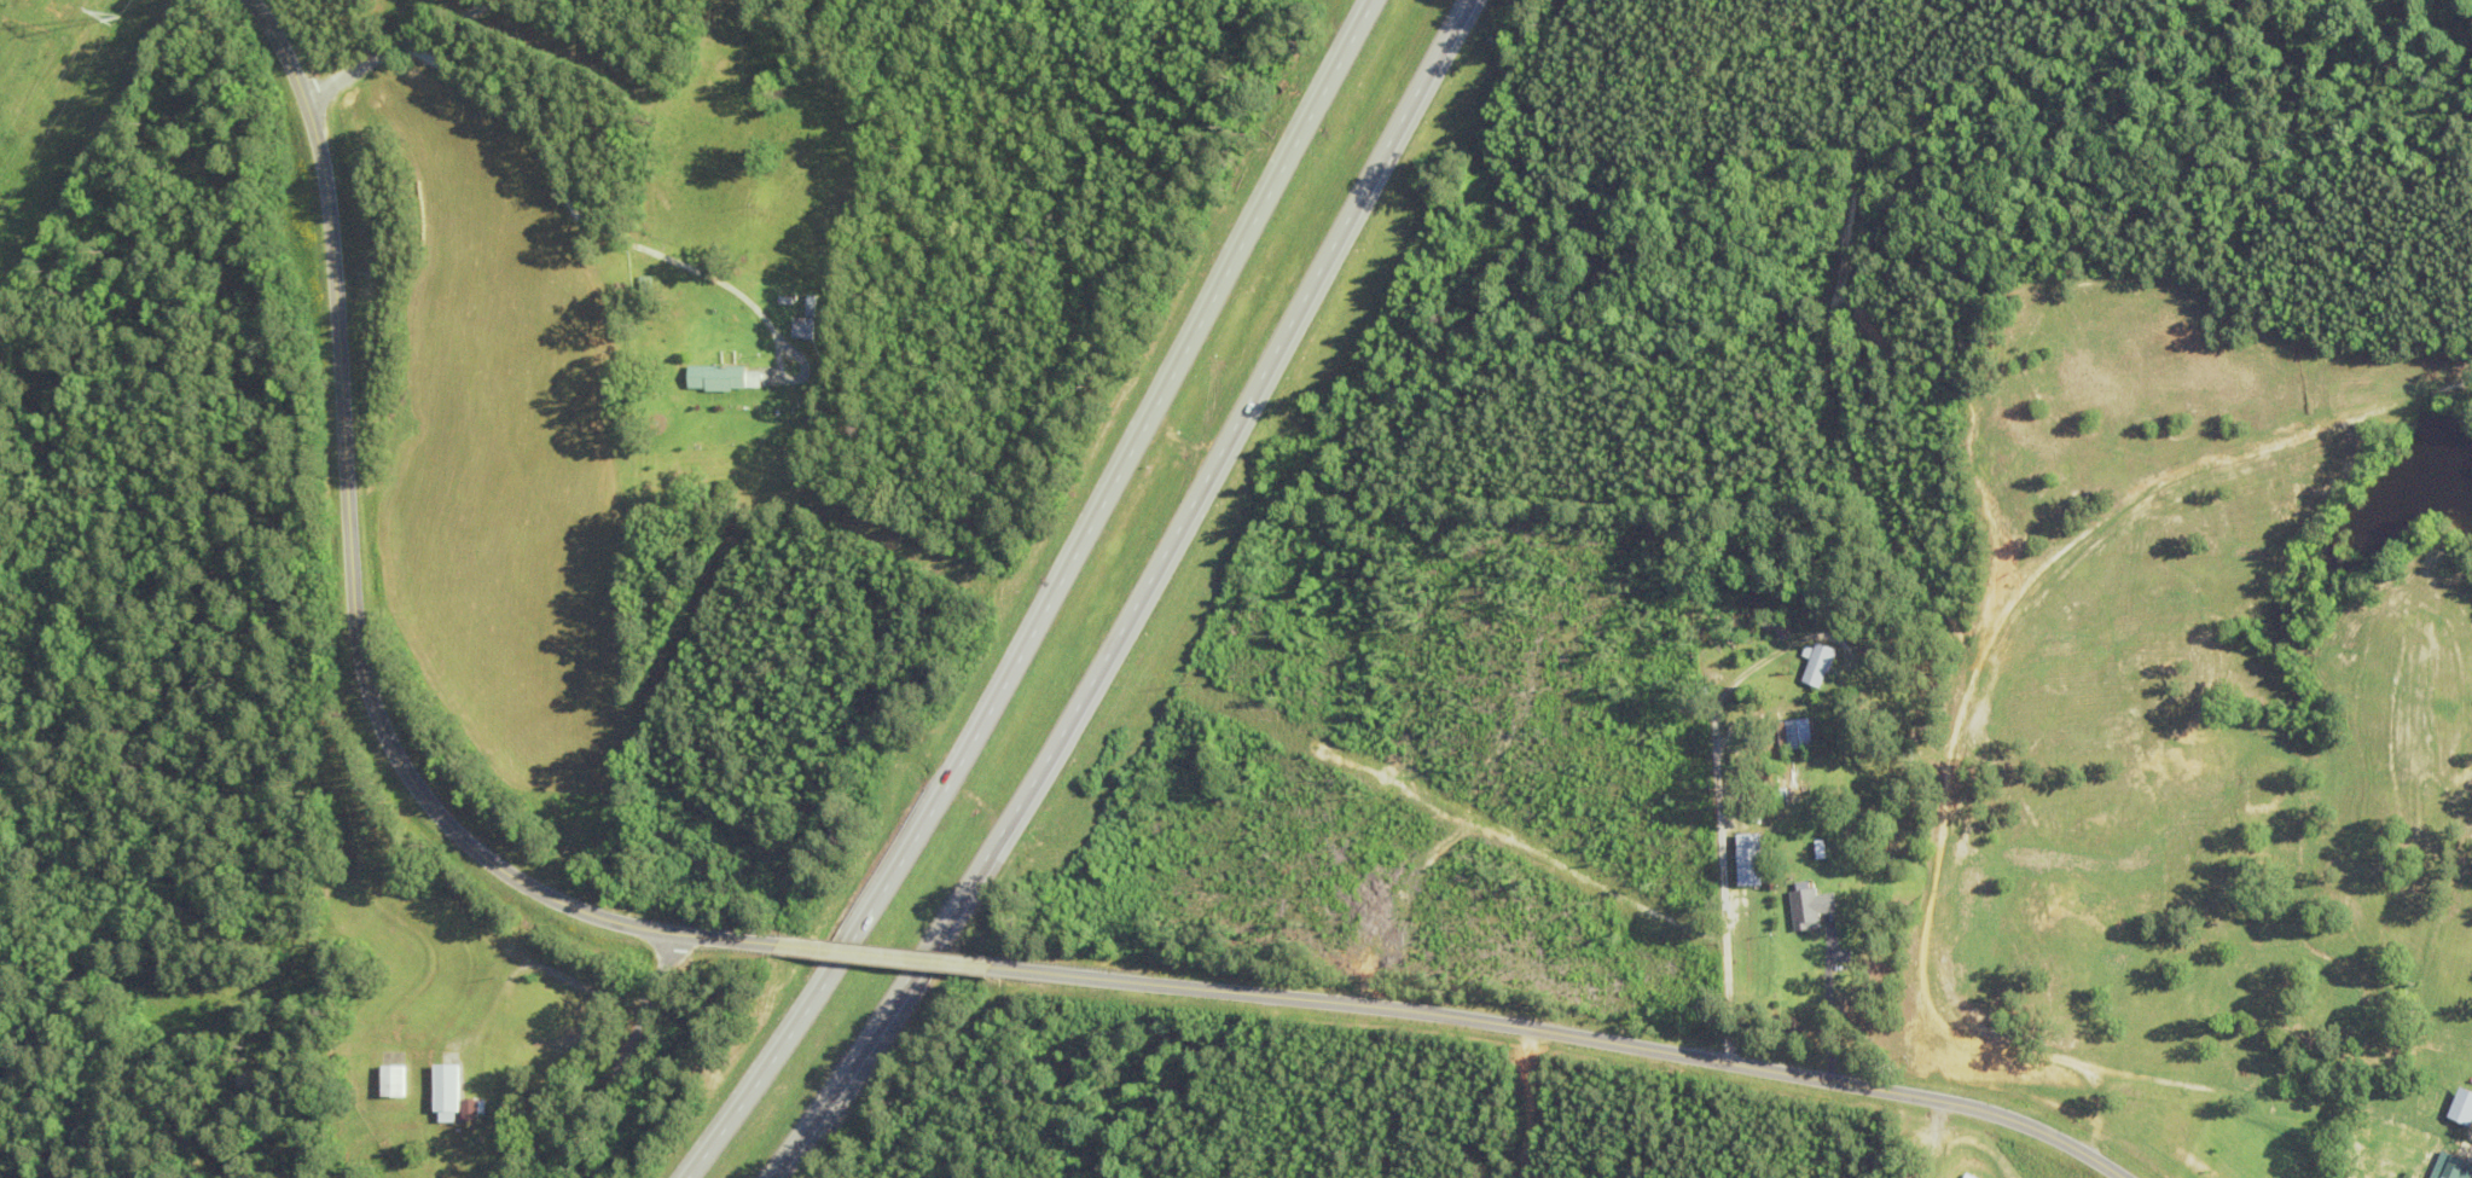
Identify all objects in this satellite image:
power tower: (120, 14)
road: (399, 47)
road: (575, 211)
building: (785, 296)
building: (802, 327)
building: (723, 378)
road: (354, 593)
road: (1046, 598)
road: (1136, 600)
building: (1821, 663)
building: (1795, 733)
road: (1699, 824)
building: (1751, 858)
building: (1811, 907)
road: (893, 956)
road: (1574, 1035)
road: (620, 1058)
building: (394, 1072)
building: (453, 1095)
building: (2462, 1106)
building: (2458, 1167)
building: (1969, 1176)

